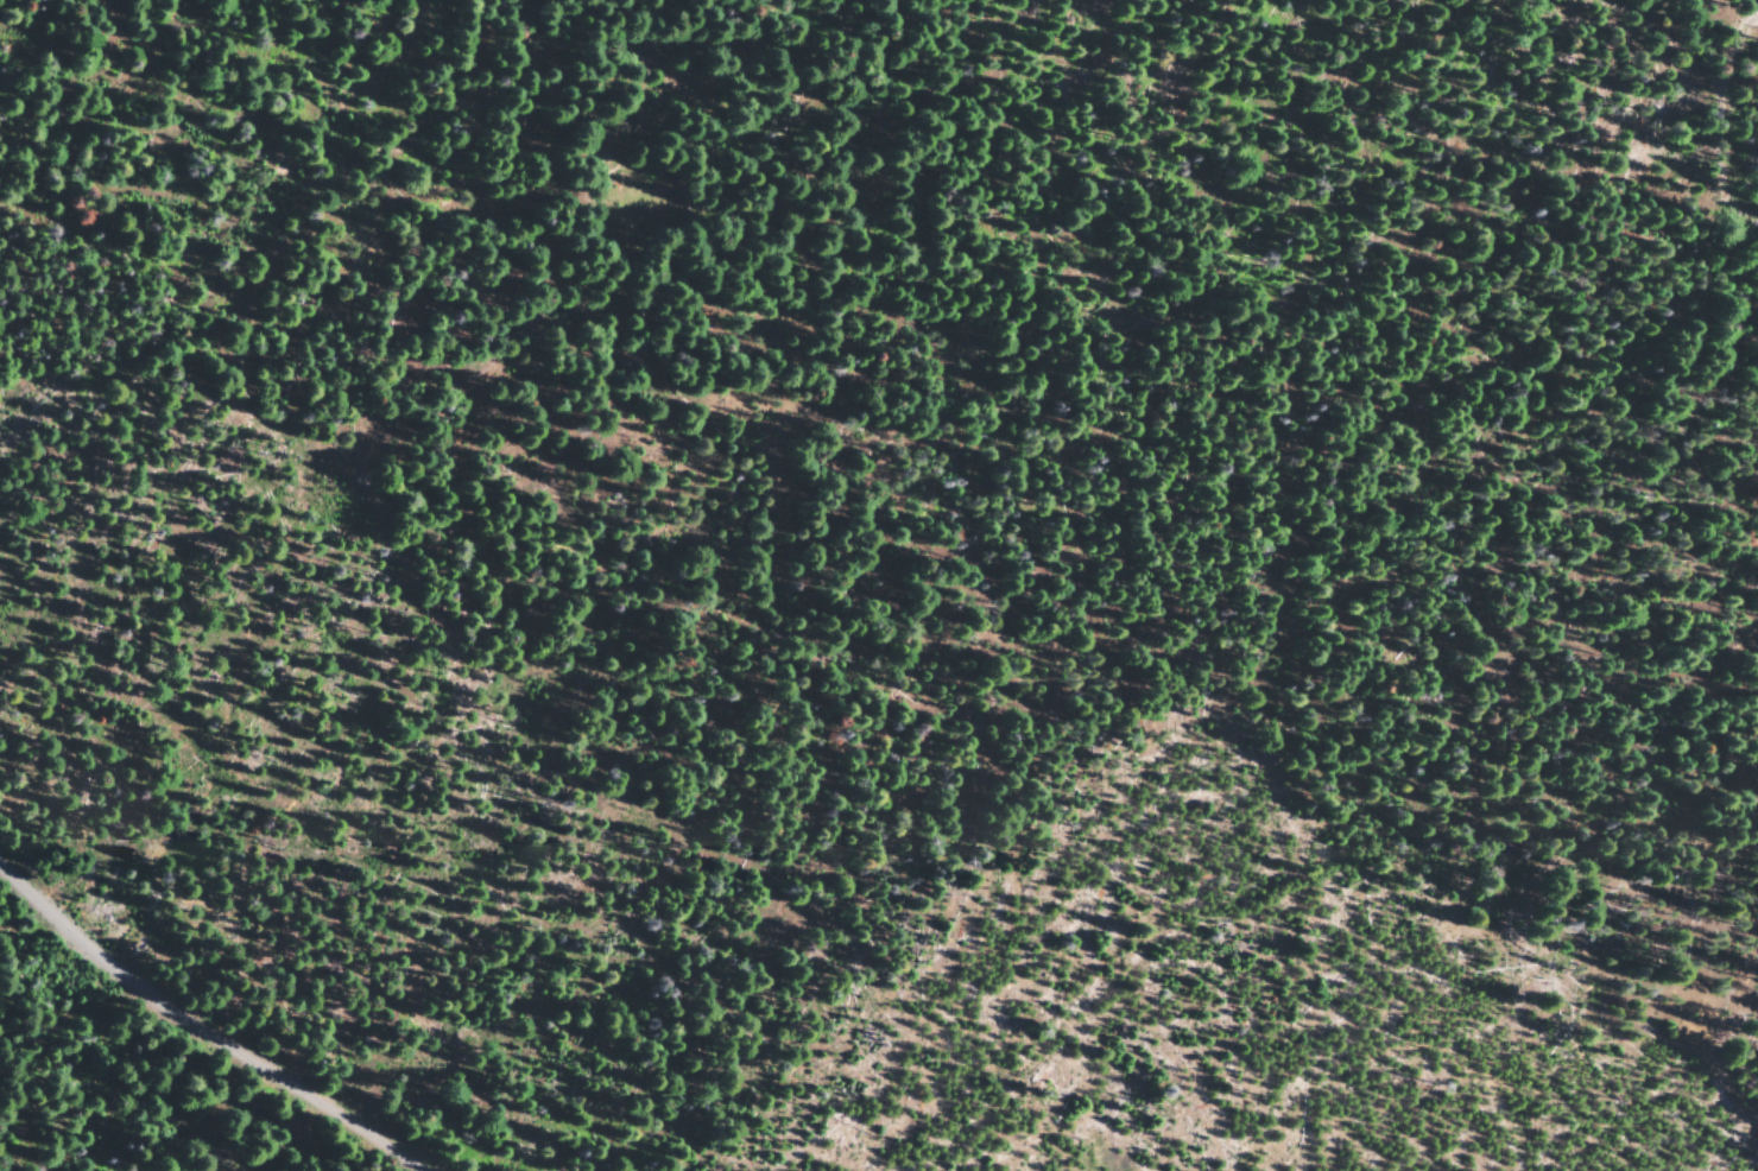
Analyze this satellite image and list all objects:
road: (247, 1006)

